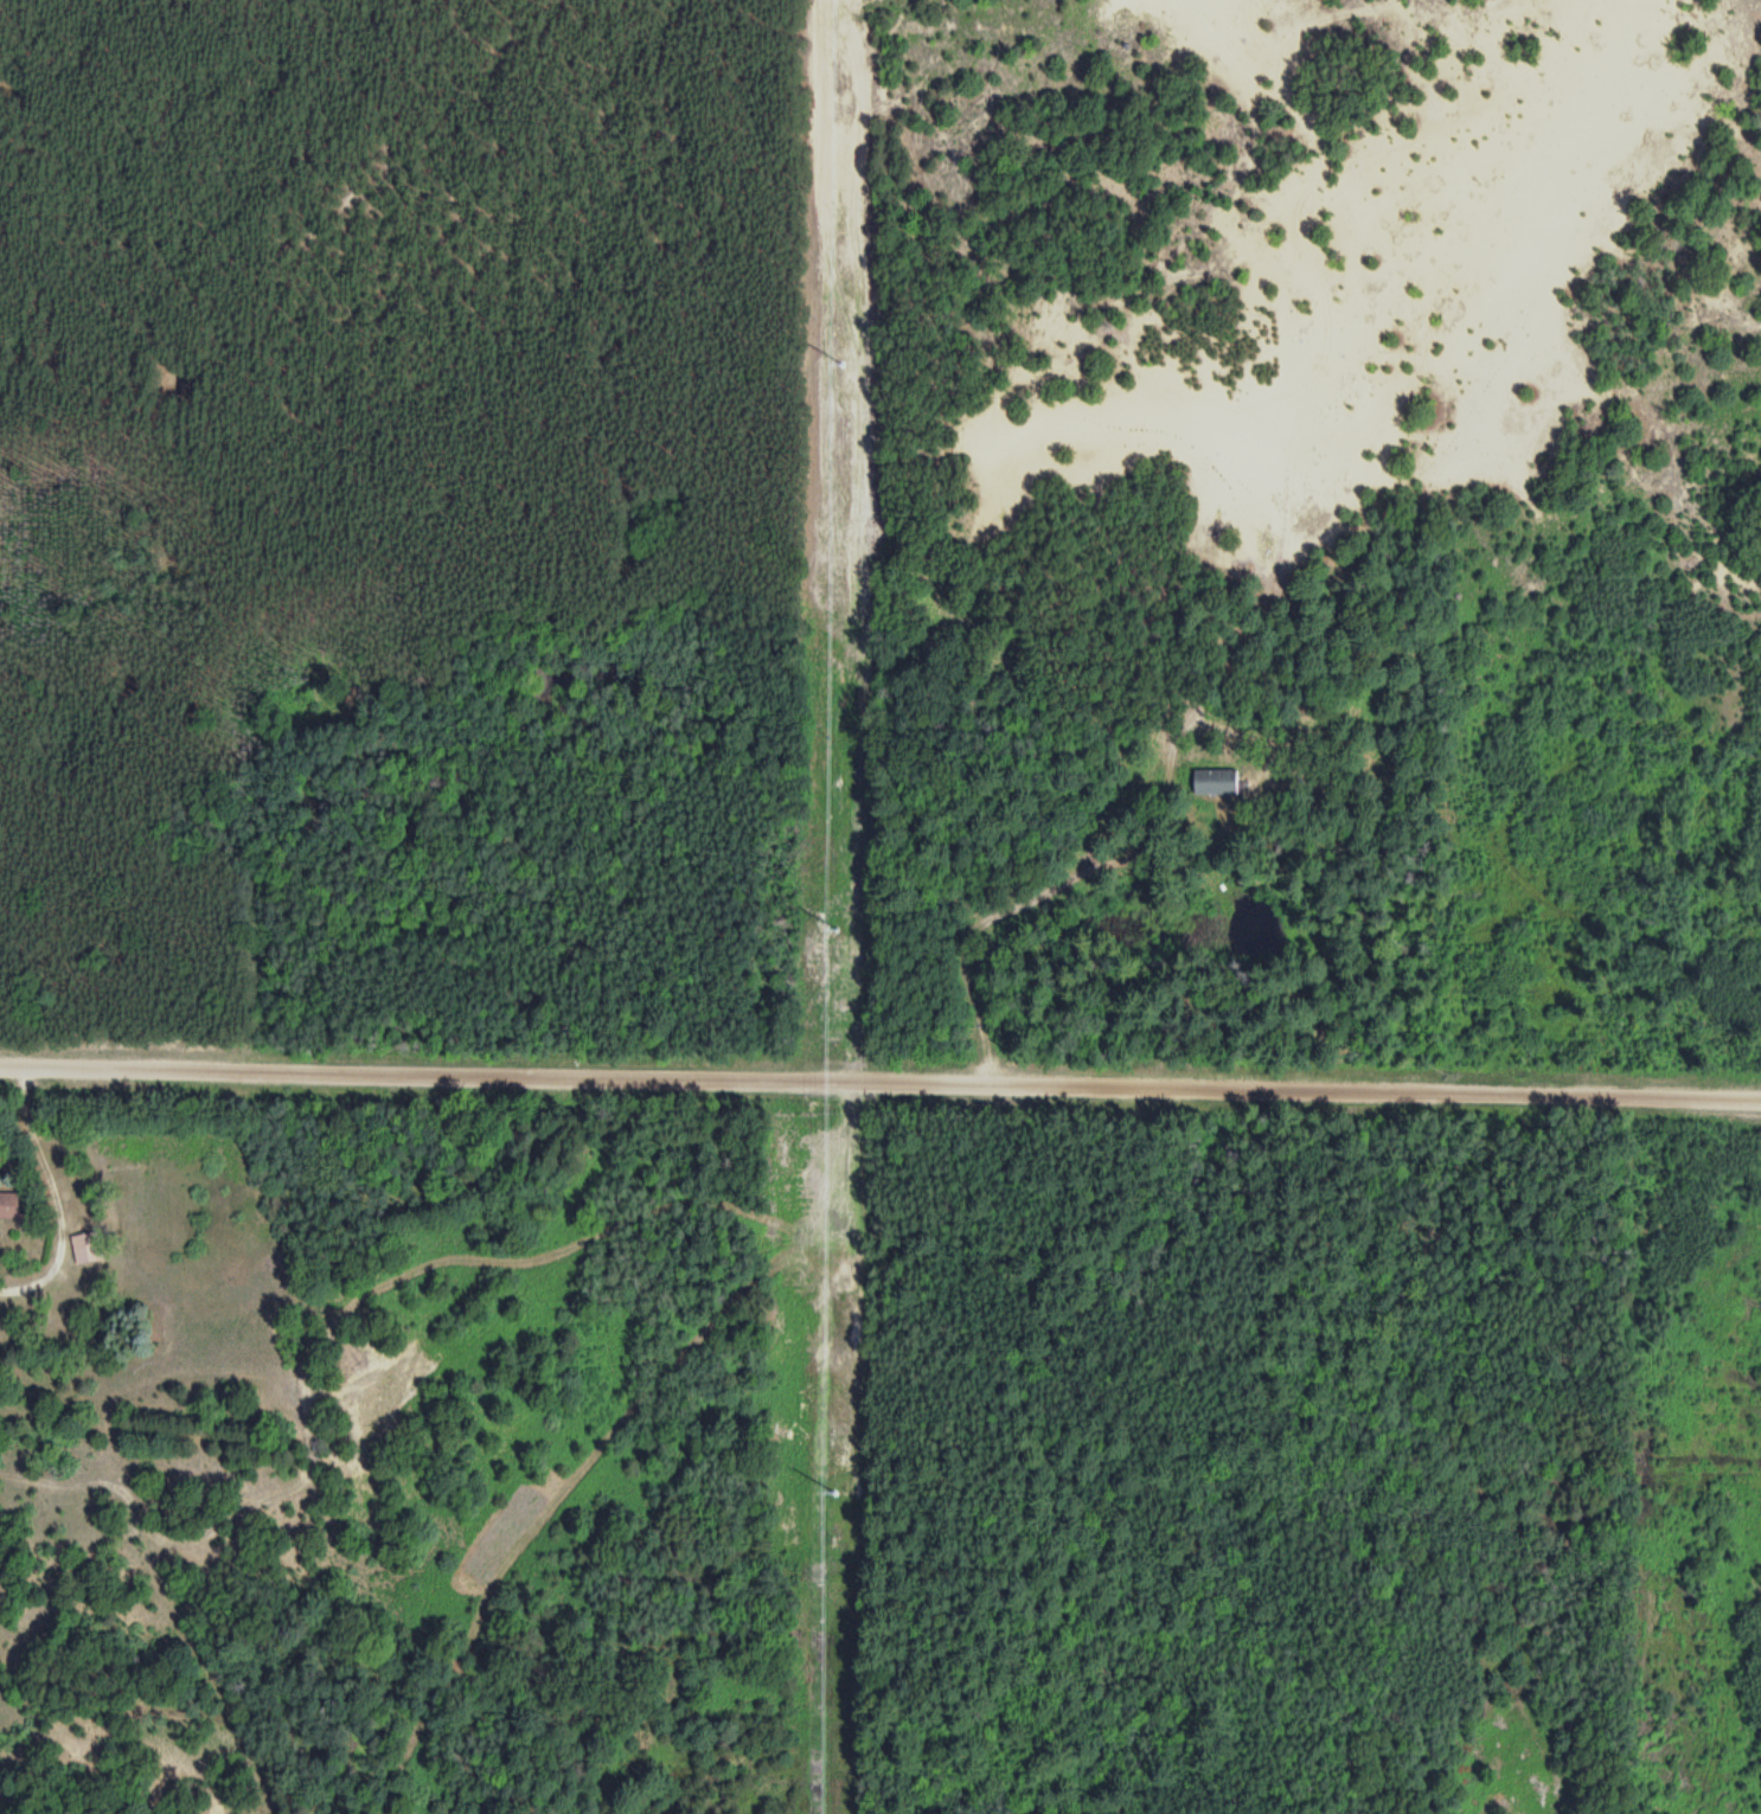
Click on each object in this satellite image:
building: (1212, 781)
road: (880, 1071)
building: (11, 1205)
building: (85, 1248)

